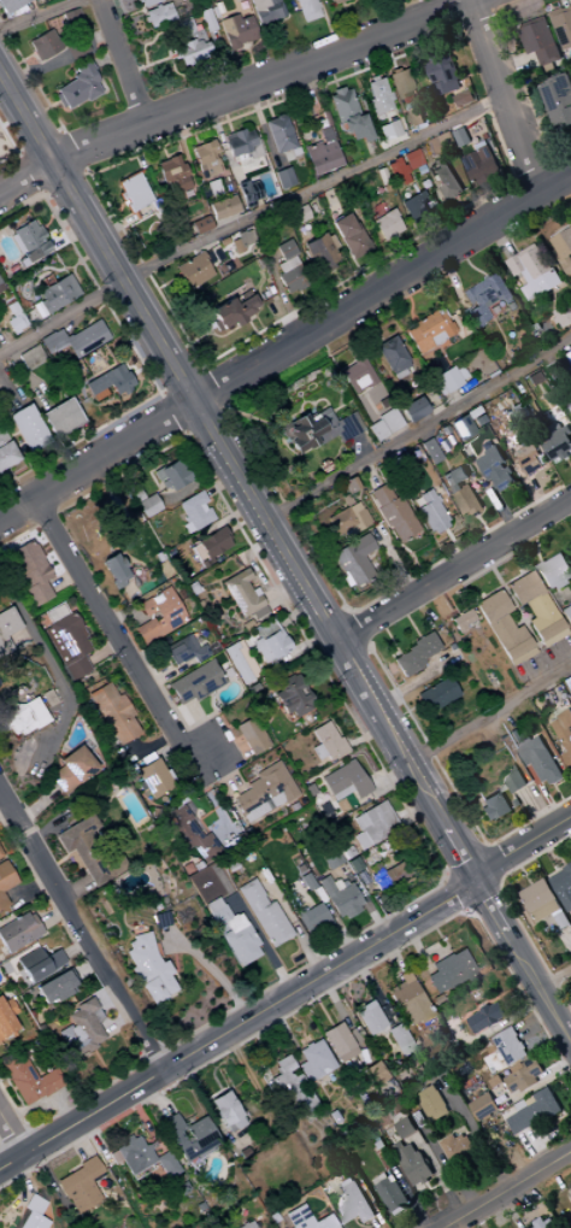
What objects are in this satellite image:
building: (146, 1)
building: (335, 1)
road: (158, 2)
road: (567, 2)
building: (10, 5)
road: (154, 5)
road: (179, 6)
building: (218, 10)
building: (265, 10)
building: (307, 10)
road: (419, 10)
road: (39, 14)
road: (129, 14)
building: (158, 14)
building: (71, 18)
building: (206, 19)
road: (347, 24)
building: (563, 27)
road: (326, 28)
building: (236, 30)
road: (278, 31)
building: (190, 34)
road: (96, 36)
road: (258, 39)
building: (541, 41)
building: (46, 43)
building: (75, 47)
building: (188, 51)
road: (387, 53)
road: (104, 58)
road: (254, 59)
road: (41, 60)
road: (158, 60)
road: (365, 60)
road: (222, 61)
road: (120, 63)
road: (10, 66)
road: (517, 66)
road: (328, 69)
road: (36, 70)
road: (478, 72)
building: (443, 74)
road: (0, 77)
road: (31, 80)
road: (317, 81)
building: (400, 83)
road: (334, 84)
building: (78, 86)
road: (236, 92)
road: (261, 94)
road: (506, 95)
building: (377, 96)
building: (464, 98)
building: (57, 100)
building: (558, 101)
building: (341, 102)
road: (52, 104)
road: (253, 105)
road: (222, 110)
road: (269, 112)
road: (37, 114)
building: (413, 117)
road: (11, 119)
road: (537, 122)
road: (218, 123)
road: (213, 125)
road: (226, 127)
building: (355, 127)
building: (393, 128)
building: (278, 133)
road: (155, 135)
road: (175, 137)
building: (461, 137)
road: (37, 139)
building: (265, 139)
road: (202, 140)
building: (237, 141)
road: (398, 141)
building: (442, 143)
road: (11, 147)
road: (134, 149)
building: (322, 149)
road: (73, 151)
road: (370, 151)
road: (161, 152)
building: (205, 158)
building: (412, 158)
building: (482, 164)
building: (396, 171)
road: (28, 174)
building: (173, 175)
building: (381, 175)
building: (283, 177)
building: (447, 181)
road: (64, 184)
building: (212, 187)
building: (131, 192)
building: (247, 193)
road: (499, 196)
road: (329, 199)
road: (555, 199)
road: (460, 201)
road: (258, 206)
building: (414, 206)
building: (223, 207)
road: (116, 210)
road: (142, 210)
building: (299, 213)
road: (134, 216)
road: (248, 217)
road: (523, 218)
road: (100, 221)
road: (46, 222)
road: (225, 222)
road: (538, 223)
building: (200, 224)
building: (385, 224)
road: (424, 224)
road: (113, 227)
road: (570, 227)
road: (413, 230)
road: (67, 235)
road: (502, 237)
road: (535, 237)
building: (352, 240)
building: (30, 241)
building: (222, 241)
building: (241, 241)
building: (331, 241)
road: (434, 241)
building: (284, 249)
building: (563, 249)
building: (319, 252)
road: (90, 253)
building: (20, 262)
road: (469, 262)
building: (285, 264)
road: (71, 268)
road: (49, 269)
road: (332, 269)
building: (192, 270)
building: (535, 271)
building: (288, 274)
road: (360, 276)
road: (334, 277)
road: (455, 280)
building: (0, 282)
road: (165, 282)
building: (294, 283)
road: (401, 288)
road: (354, 289)
building: (55, 293)
road: (548, 293)
road: (401, 298)
building: (487, 298)
building: (6, 299)
road: (284, 305)
road: (553, 305)
road: (408, 309)
road: (94, 311)
building: (14, 312)
building: (230, 312)
road: (364, 315)
building: (564, 315)
road: (37, 317)
building: (13, 324)
road: (249, 327)
building: (429, 329)
road: (217, 335)
road: (378, 337)
road: (395, 339)
road: (4, 340)
building: (75, 340)
road: (239, 342)
road: (284, 345)
road: (133, 352)
building: (389, 353)
building: (30, 357)
road: (342, 366)
building: (398, 371)
building: (357, 374)
road: (339, 376)
road: (25, 378)
road: (178, 378)
building: (447, 380)
building: (110, 381)
building: (436, 386)
building: (540, 386)
road: (2, 390)
road: (454, 398)
road: (325, 405)
road: (431, 405)
road: (339, 406)
building: (570, 406)
building: (412, 410)
road: (372, 411)
building: (60, 418)
building: (388, 421)
building: (27, 428)
building: (461, 428)
building: (283, 429)
road: (417, 429)
building: (442, 429)
building: (319, 430)
building: (375, 430)
road: (78, 431)
road: (12, 434)
building: (553, 439)
road: (64, 440)
road: (18, 445)
road: (14, 446)
road: (88, 448)
road: (359, 448)
building: (429, 451)
building: (6, 452)
road: (73, 457)
road: (569, 463)
building: (531, 464)
road: (445, 465)
building: (495, 469)
road: (367, 474)
building: (170, 476)
building: (454, 480)
building: (349, 486)
road: (532, 487)
road: (413, 488)
road: (355, 497)
building: (345, 500)
building: (466, 500)
building: (147, 506)
road: (500, 509)
building: (193, 511)
building: (430, 512)
building: (393, 513)
building: (346, 522)
road: (482, 522)
road: (449, 540)
road: (376, 542)
building: (207, 547)
road: (373, 548)
road: (402, 551)
road: (283, 556)
road: (369, 556)
road: (365, 557)
road: (392, 560)
building: (353, 562)
building: (113, 570)
road: (453, 570)
building: (553, 571)
building: (30, 572)
road: (405, 581)
building: (240, 594)
building: (529, 599)
building: (566, 615)
building: (157, 616)
road: (102, 618)
building: (460, 621)
building: (6, 629)
building: (502, 629)
building: (548, 633)
building: (65, 640)
building: (270, 646)
building: (183, 651)
building: (412, 656)
building: (239, 662)
road: (48, 670)
building: (194, 683)
building: (566, 686)
building: (435, 695)
building: (46, 698)
building: (293, 698)
building: (111, 713)
road: (489, 713)
building: (20, 717)
building: (564, 734)
building: (249, 736)
building: (324, 742)
building: (535, 757)
building: (69, 770)
building: (151, 778)
building: (343, 782)
building: (514, 782)
road: (193, 792)
building: (263, 792)
building: (493, 806)
building: (371, 824)
building: (188, 834)
building: (87, 851)
building: (0, 857)
building: (5, 877)
building: (389, 879)
building: (563, 887)
building: (339, 899)
building: (540, 901)
building: (2, 903)
building: (263, 915)
building: (311, 918)
building: (17, 932)
building: (232, 933)
road: (83, 935)
building: (37, 963)
building: (146, 966)
building: (448, 971)
road: (558, 986)
building: (53, 988)
road: (287, 1000)
building: (407, 1000)
building: (367, 1018)
building: (485, 1018)
building: (6, 1020)
building: (80, 1029)
building: (352, 1036)
building: (398, 1040)
building: (337, 1042)
building: (510, 1046)
building: (313, 1060)
building: (372, 1074)
building: (523, 1076)
building: (25, 1080)
building: (289, 1088)
building: (431, 1104)
building: (482, 1107)
building: (225, 1111)
building: (532, 1111)
building: (404, 1128)
road: (12, 1135)
building: (187, 1138)
road: (477, 1139)
building: (455, 1147)
building: (141, 1158)
building: (412, 1164)
building: (78, 1186)
building: (387, 1193)
road: (513, 1194)
building: (352, 1205)
building: (30, 1215)
building: (305, 1220)
building: (543, 1224)
building: (247, 1226)

